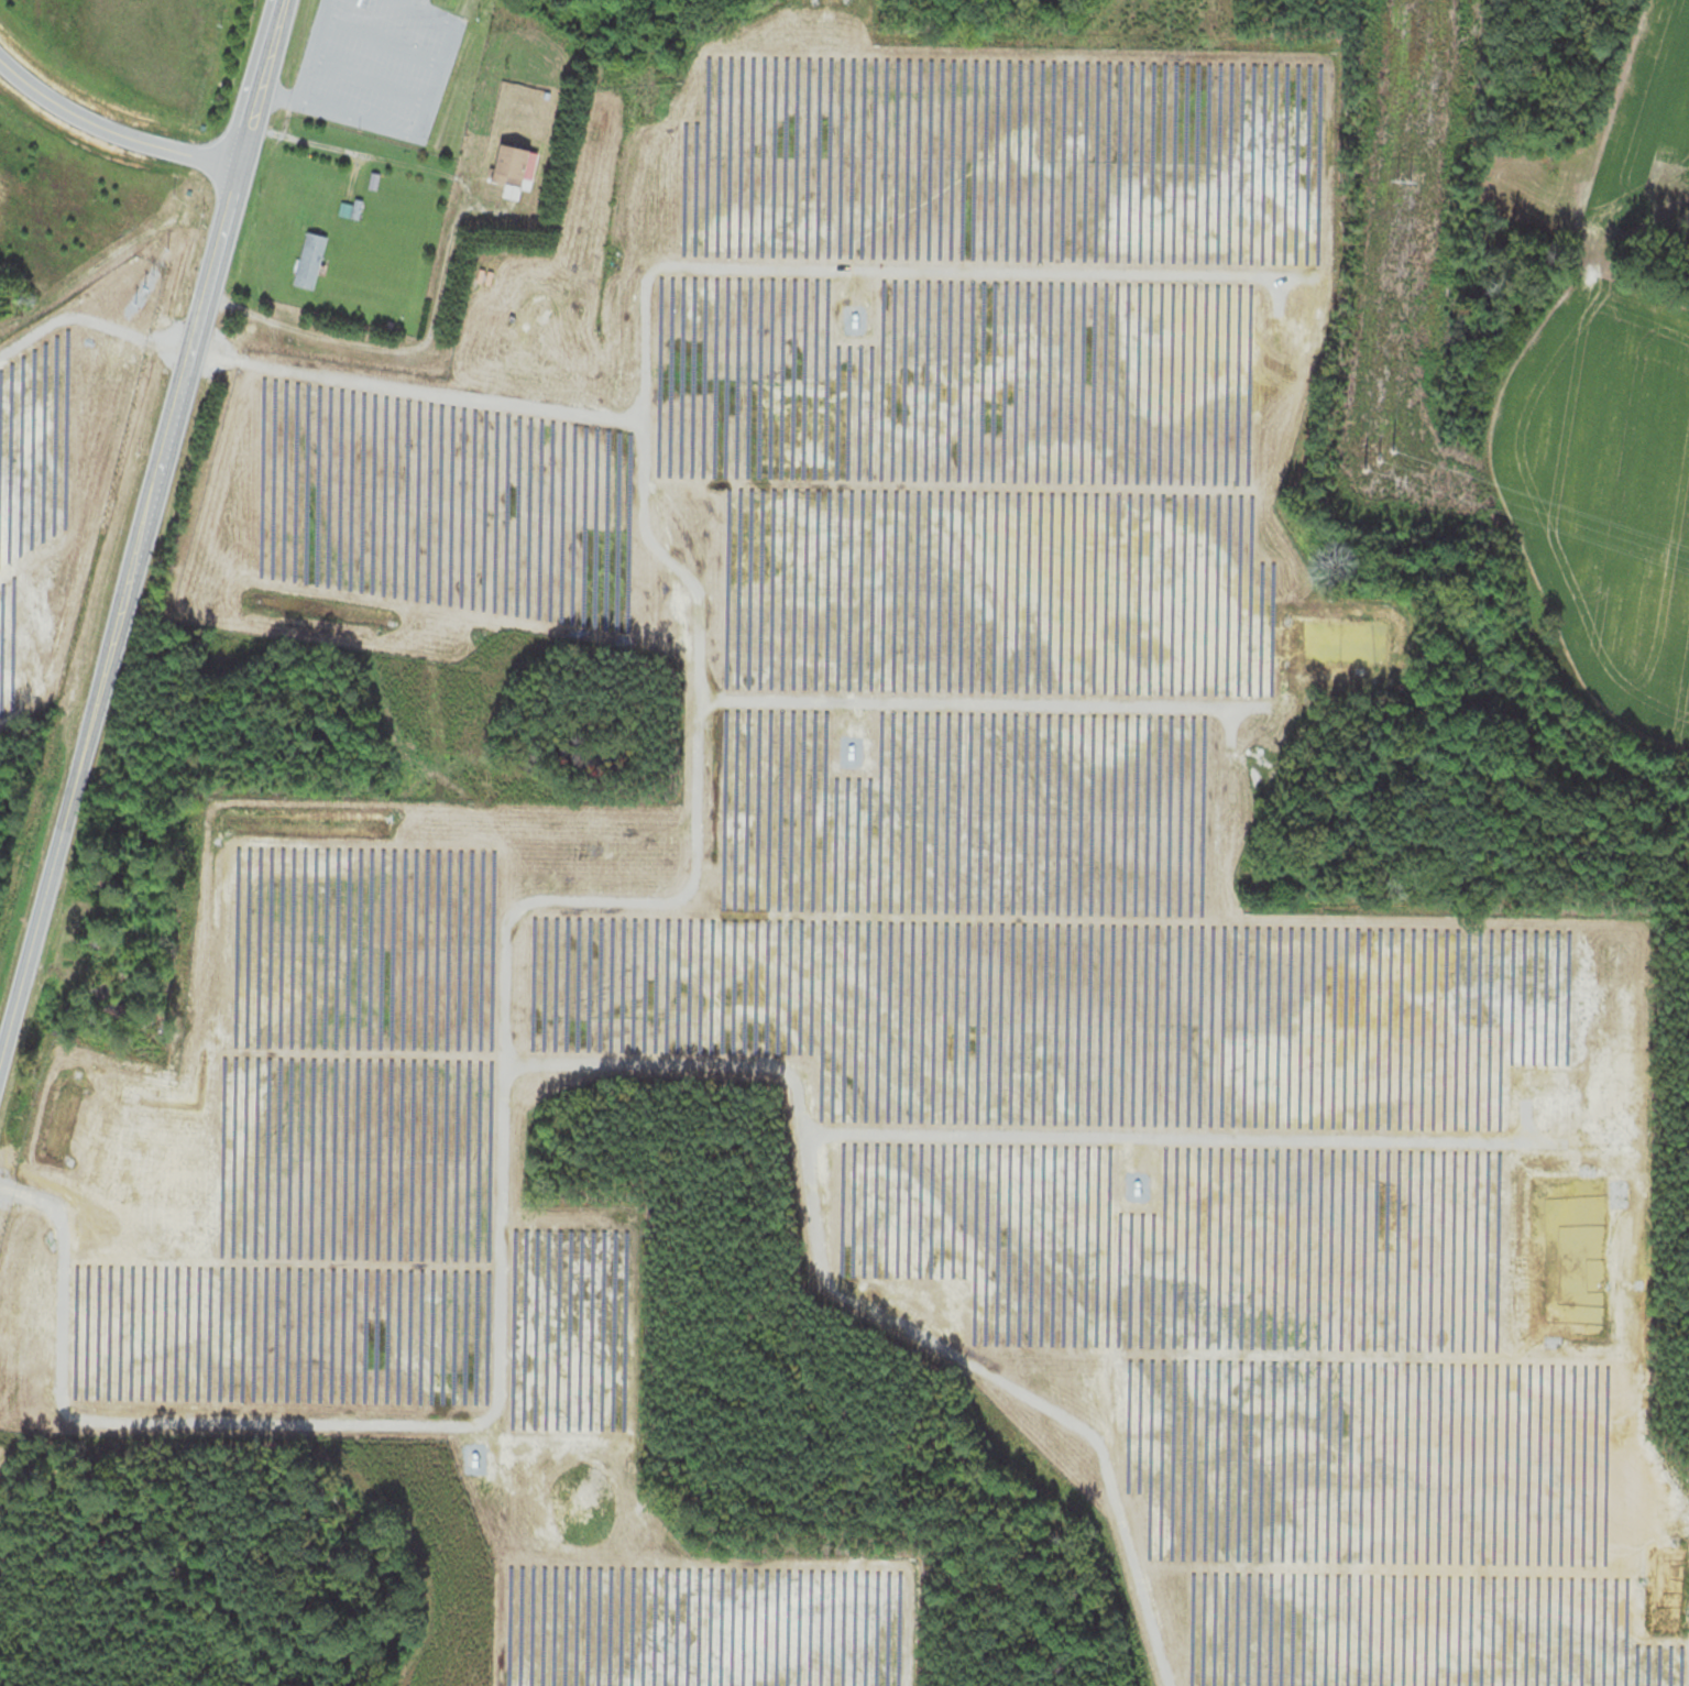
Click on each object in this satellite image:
road: (428, 12)
road: (382, 36)
road: (308, 48)
road: (436, 81)
road: (339, 113)
building: (516, 166)
building: (311, 261)
road: (446, 266)
road: (143, 537)
building: (106, 879)
road: (509, 976)
road: (320, 1412)

